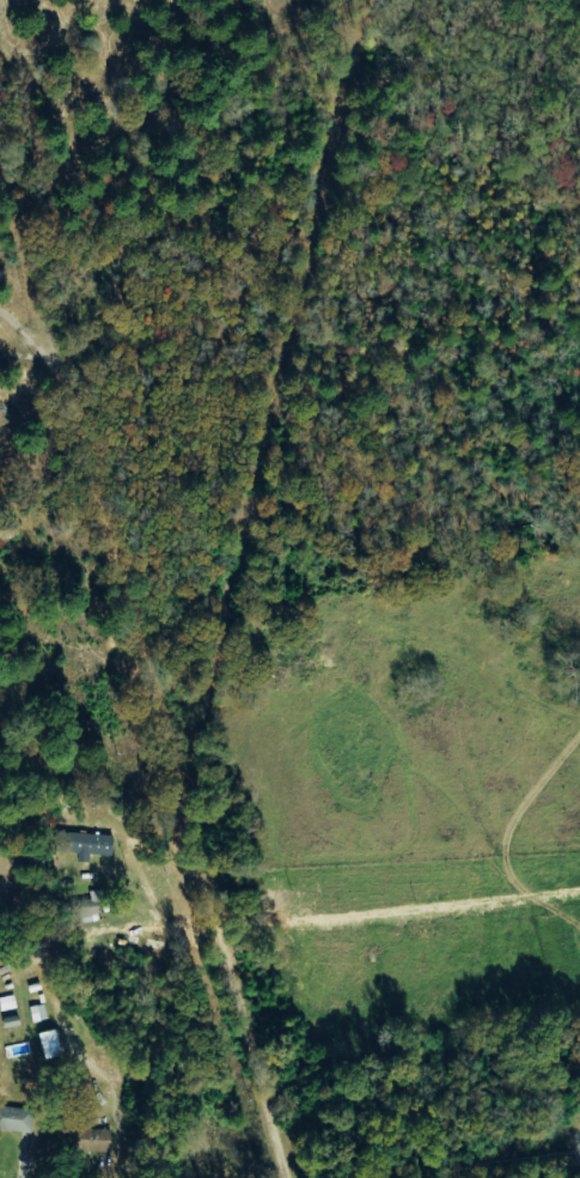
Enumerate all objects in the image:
road: (539, 48)
road: (167, 588)
building: (91, 843)
building: (96, 906)
building: (53, 1045)
building: (17, 1119)
building: (98, 1140)

